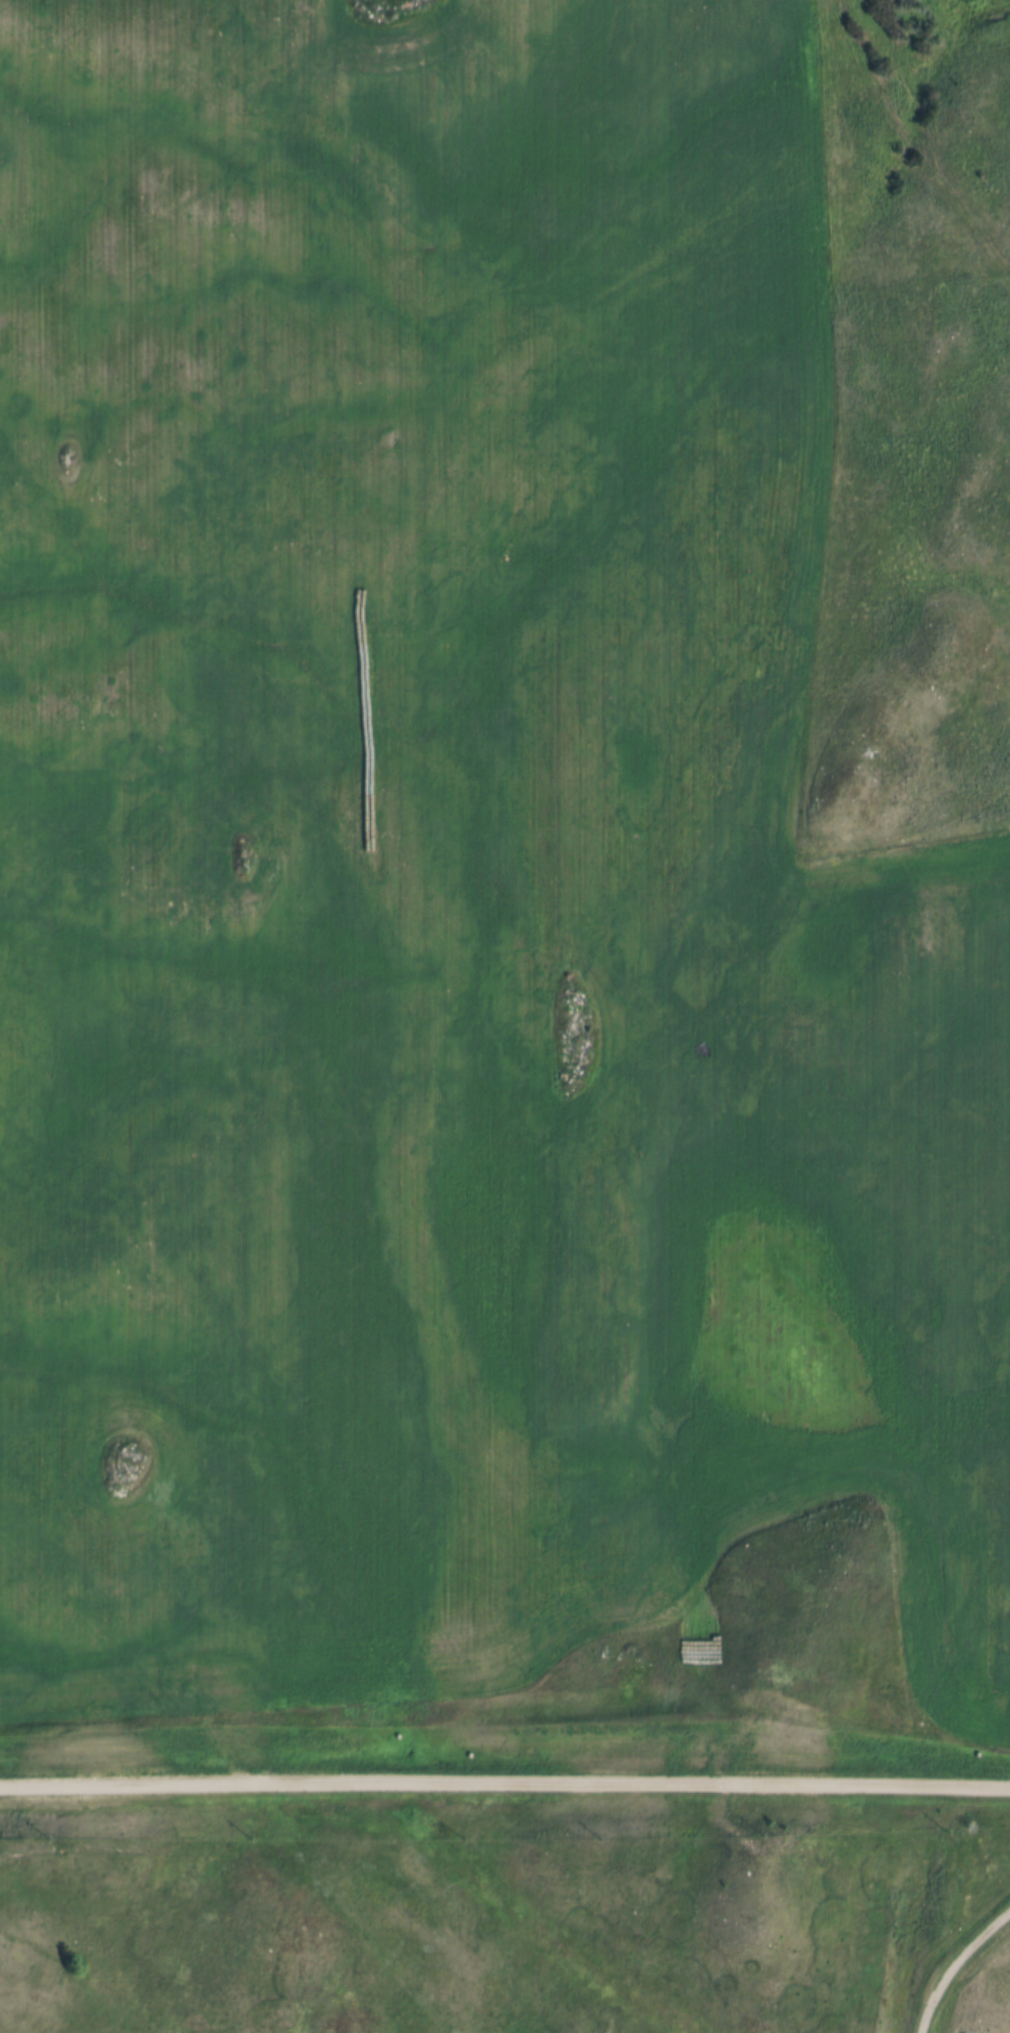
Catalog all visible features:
road: (505, 1778)
road: (952, 1961)

